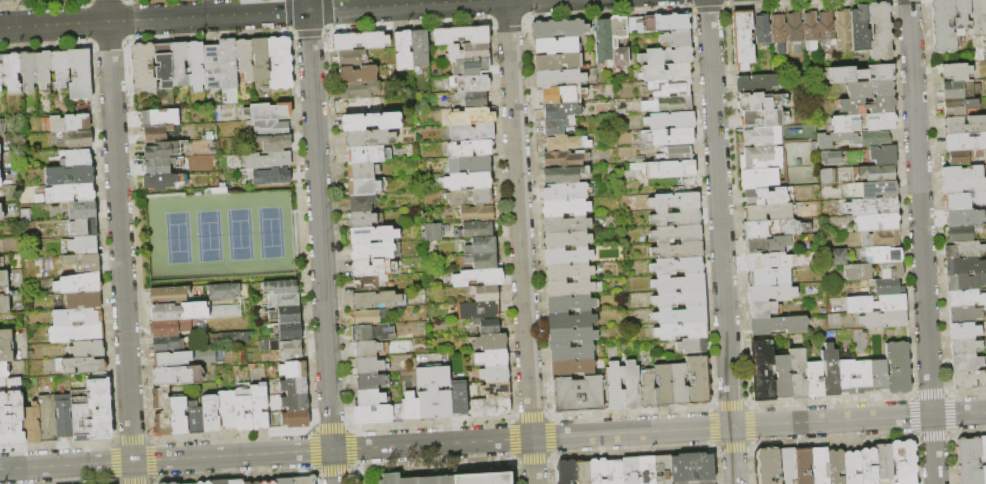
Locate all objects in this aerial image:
building: (3, 1)
road: (406, 2)
road: (207, 7)
road: (19, 13)
road: (236, 13)
building: (961, 16)
building: (978, 17)
building: (672, 22)
building: (640, 25)
building: (942, 26)
building: (827, 27)
building: (558, 29)
building: (860, 29)
building: (761, 30)
building: (810, 30)
building: (843, 30)
building: (794, 31)
building: (880, 31)
building: (778, 33)
building: (461, 35)
building: (676, 39)
building: (743, 39)
building: (360, 41)
building: (613, 42)
building: (603, 43)
building: (557, 45)
building: (419, 48)
building: (403, 51)
building: (468, 52)
building: (666, 56)
building: (245, 58)
building: (352, 58)
building: (260, 59)
building: (558, 61)
building: (179, 64)
building: (228, 64)
building: (280, 64)
building: (196, 65)
building: (164, 66)
building: (212, 67)
building: (144, 68)
building: (471, 68)
building: (36, 69)
building: (60, 69)
building: (12, 71)
building: (667, 72)
building: (956, 72)
building: (1, 73)
building: (359, 74)
building: (861, 74)
building: (80, 75)
building: (559, 79)
building: (470, 84)
building: (757, 84)
building: (667, 88)
building: (870, 89)
building: (359, 90)
building: (959, 90)
building: (563, 95)
building: (472, 100)
building: (760, 102)
building: (668, 105)
building: (868, 106)
building: (358, 107)
building: (957, 107)
building: (558, 111)
building: (271, 112)
building: (464, 117)
building: (160, 118)
building: (763, 119)
building: (670, 120)
building: (371, 122)
building: (71, 123)
building: (864, 123)
building: (965, 125)
building: (557, 126)
building: (2, 128)
building: (272, 128)
building: (155, 133)
building: (472, 133)
building: (763, 136)
building: (670, 137)
building: (80, 138)
building: (369, 138)
building: (854, 139)
building: (964, 142)
building: (275, 143)
building: (567, 143)
building: (471, 148)
building: (161, 150)
building: (676, 154)
building: (368, 155)
building: (884, 155)
building: (964, 156)
building: (828, 157)
building: (0, 158)
building: (761, 158)
building: (77, 159)
building: (565, 159)
building: (268, 160)
building: (470, 164)
building: (158, 166)
building: (668, 169)
building: (362, 171)
building: (878, 173)
building: (70, 175)
building: (565, 175)
building: (823, 175)
building: (270, 176)
building: (759, 179)
building: (963, 180)
building: (0, 181)
building: (469, 181)
building: (160, 182)
building: (366, 187)
building: (872, 190)
building: (565, 192)
building: (70, 193)
building: (769, 196)
building: (470, 197)
building: (676, 199)
building: (963, 201)
building: (362, 203)
building: (872, 206)
building: (565, 208)
building: (81, 210)
building: (769, 212)
building: (1, 213)
building: (477, 214)
building: (961, 217)
building: (676, 218)
building: (362, 219)
building: (877, 222)
building: (566, 224)
road: (319, 225)
building: (84, 228)
building: (775, 228)
building: (430, 230)
building: (476, 230)
building: (676, 233)
building: (963, 234)
building: (373, 235)
park: (218, 236)
park: (218, 236)
building: (880, 239)
building: (567, 240)
road: (119, 241)
road: (520, 241)
road: (922, 241)
road: (721, 242)
building: (84, 245)
building: (767, 245)
building: (483, 247)
building: (678, 250)
building: (964, 250)
building: (375, 251)
building: (880, 255)
building: (568, 256)
building: (837, 257)
building: (483, 260)
building: (761, 261)
building: (2, 262)
building: (82, 262)
building: (677, 266)
building: (965, 266)
building: (374, 268)
building: (873, 271)
building: (569, 272)
building: (478, 277)
building: (770, 277)
building: (966, 282)
building: (679, 283)
building: (78, 284)
building: (369, 284)
building: (282, 287)
building: (888, 287)
building: (571, 288)
building: (7, 292)
building: (224, 292)
building: (486, 293)
building: (771, 293)
building: (169, 295)
building: (680, 298)
building: (966, 298)
building: (84, 300)
building: (285, 300)
building: (378, 300)
building: (570, 304)
building: (876, 304)
building: (762, 310)
building: (193, 311)
building: (480, 311)
building: (286, 315)
building: (681, 315)
building: (965, 315)
building: (77, 317)
building: (369, 317)
building: (884, 319)
building: (571, 321)
building: (779, 325)
building: (488, 326)
building: (170, 328)
building: (682, 331)
building: (965, 331)
building: (291, 332)
building: (373, 333)
building: (76, 334)
building: (572, 336)
building: (234, 337)
building: (491, 342)
building: (167, 345)
building: (692, 345)
building: (6, 346)
building: (965, 346)
building: (87, 349)
building: (291, 349)
building: (371, 349)
building: (572, 353)
building: (208, 357)
building: (492, 358)
building: (172, 360)
building: (967, 363)
building: (371, 365)
building: (81, 366)
building: (572, 368)
building: (898, 368)
building: (294, 369)
building: (3, 371)
building: (762, 371)
building: (831, 371)
building: (798, 373)
building: (495, 374)
building: (177, 376)
building: (879, 376)
building: (783, 377)
building: (847, 377)
building: (862, 377)
building: (814, 379)
building: (698, 380)
building: (969, 380)
building: (371, 381)
building: (679, 385)
building: (294, 386)
building: (631, 386)
building: (664, 386)
building: (614, 387)
building: (496, 390)
building: (648, 391)
building: (434, 393)
building: (580, 394)
building: (371, 398)
building: (459, 399)
building: (296, 402)
building: (410, 406)
building: (490, 407)
building: (260, 408)
building: (99, 409)
building: (242, 409)
building: (227, 410)
building: (162, 411)
building: (10, 412)
building: (397, 412)
building: (211, 414)
building: (373, 414)
building: (80, 415)
building: (64, 416)
building: (178, 416)
building: (48, 418)
building: (195, 418)
building: (296, 419)
building: (32, 423)
road: (659, 431)
building: (983, 449)
road: (166, 459)
building: (904, 461)
building: (969, 461)
building: (884, 462)
building: (787, 465)
building: (819, 465)
building: (768, 466)
building: (803, 466)
building: (868, 466)
road: (333, 467)
building: (835, 467)
building: (852, 467)
building: (692, 468)
building: (661, 469)
building: (630, 470)
building: (645, 470)
building: (598, 471)
building: (566, 472)
building: (582, 472)
building: (614, 472)
building: (984, 474)
building: (455, 477)
building: (304, 480)
building: (284, 481)
building: (208, 482)
building: (220, 482)
building: (235, 482)
building: (268, 482)
building: (164, 483)
building: (172, 483)
building: (200, 483)
building: (248, 483)
building: (256, 483)

